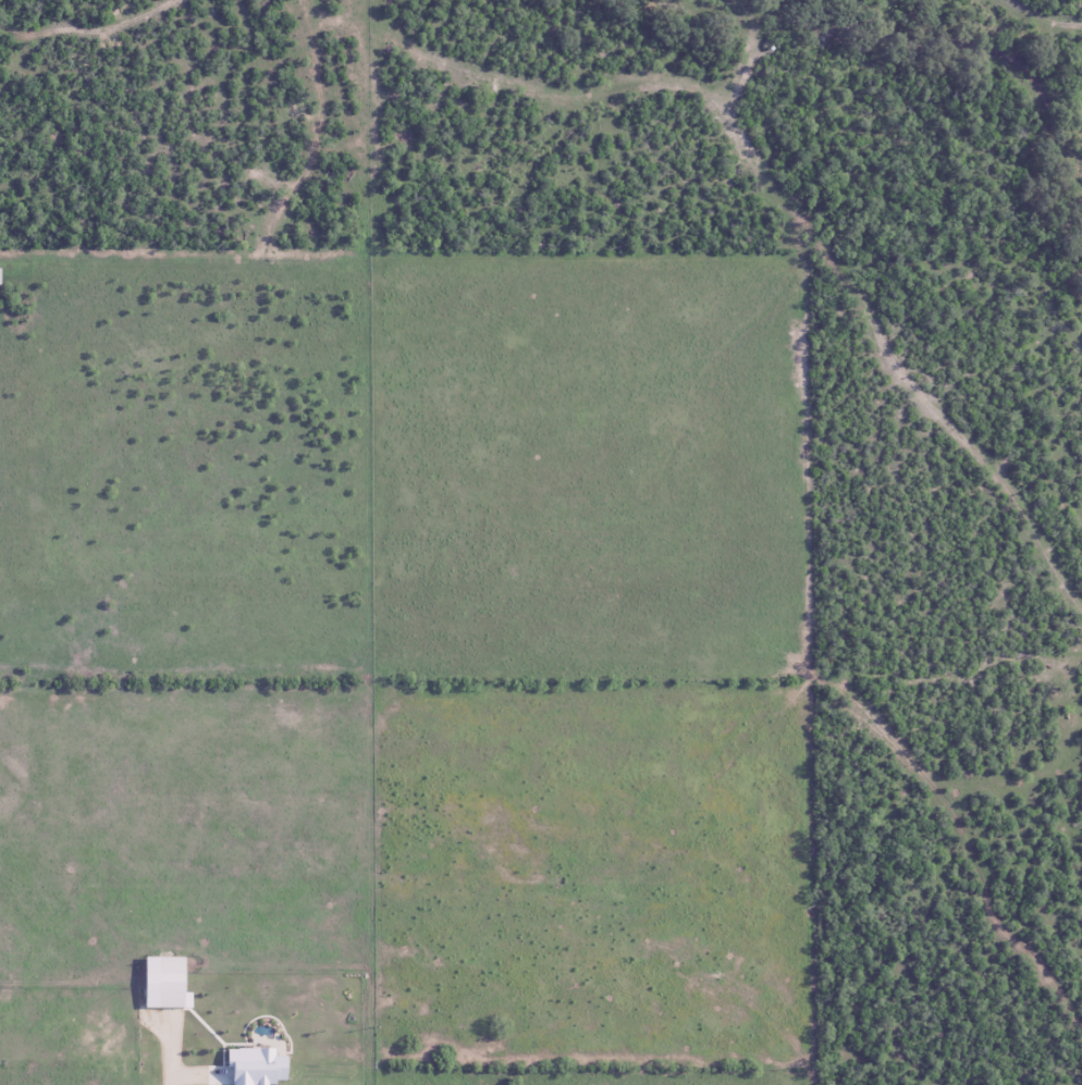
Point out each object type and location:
road: (169, 1082)

